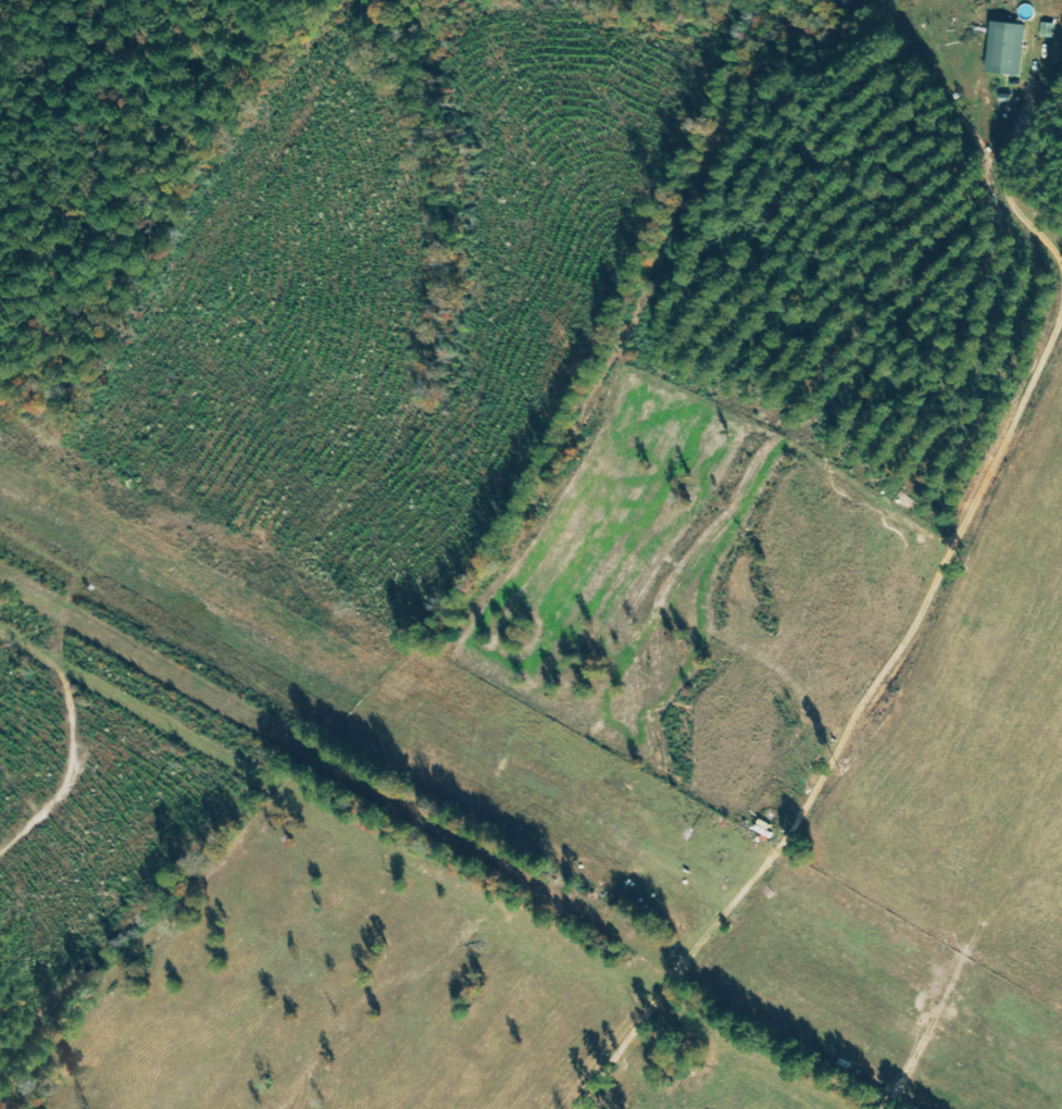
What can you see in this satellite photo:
building: (1002, 47)

